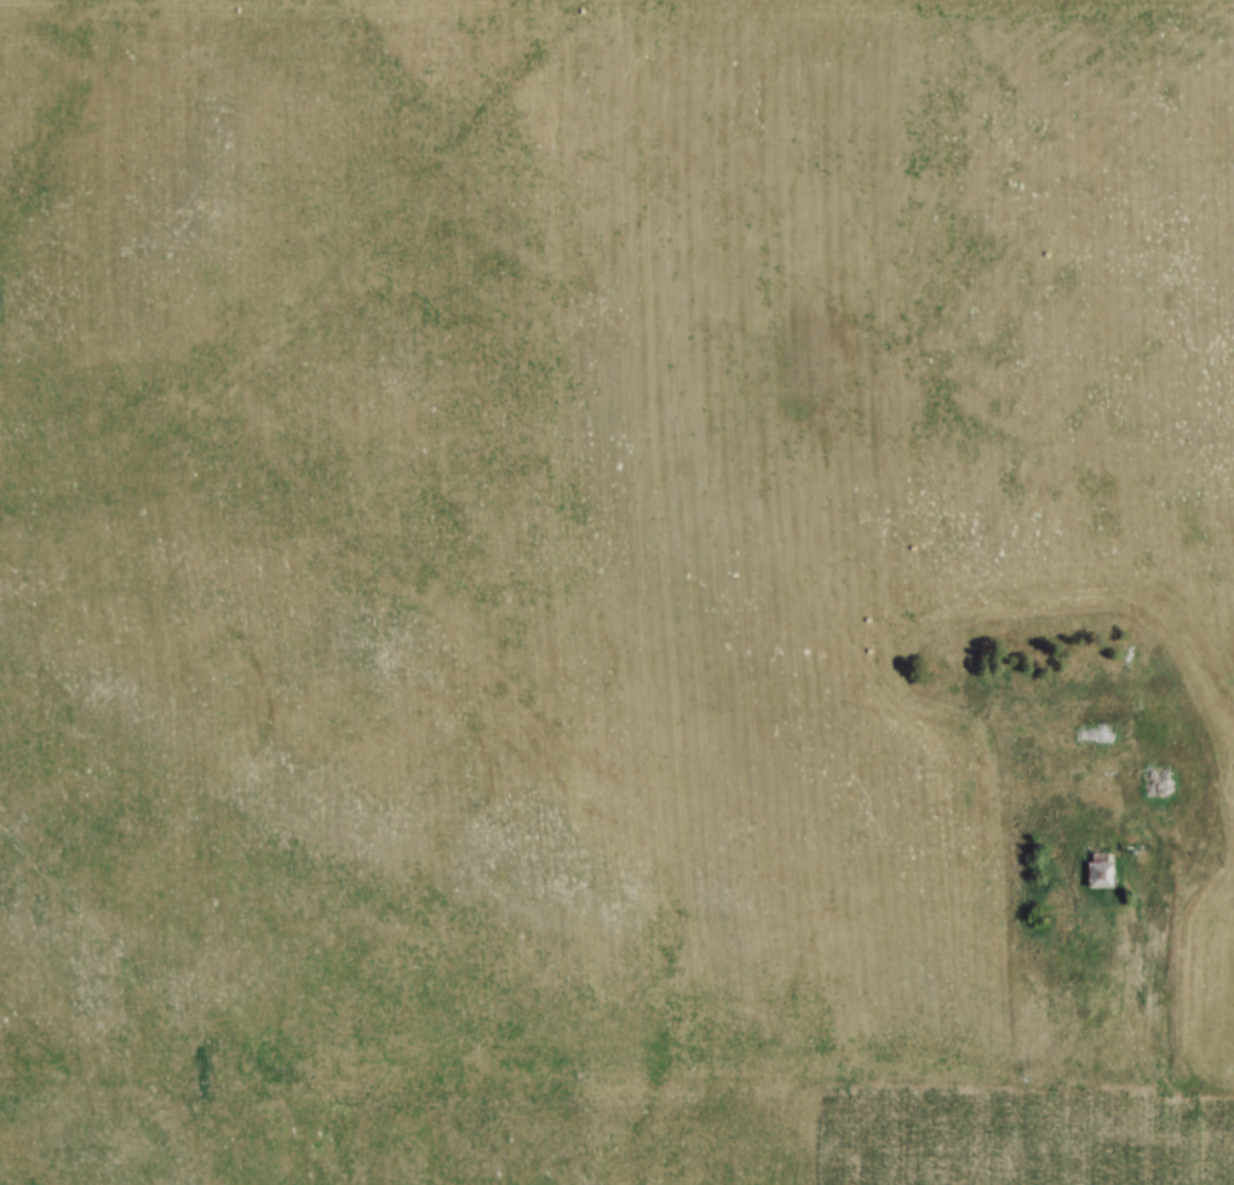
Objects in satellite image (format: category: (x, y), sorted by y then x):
building: (1091, 734)
building: (1097, 874)
road: (1125, 997)
road: (1203, 1093)

